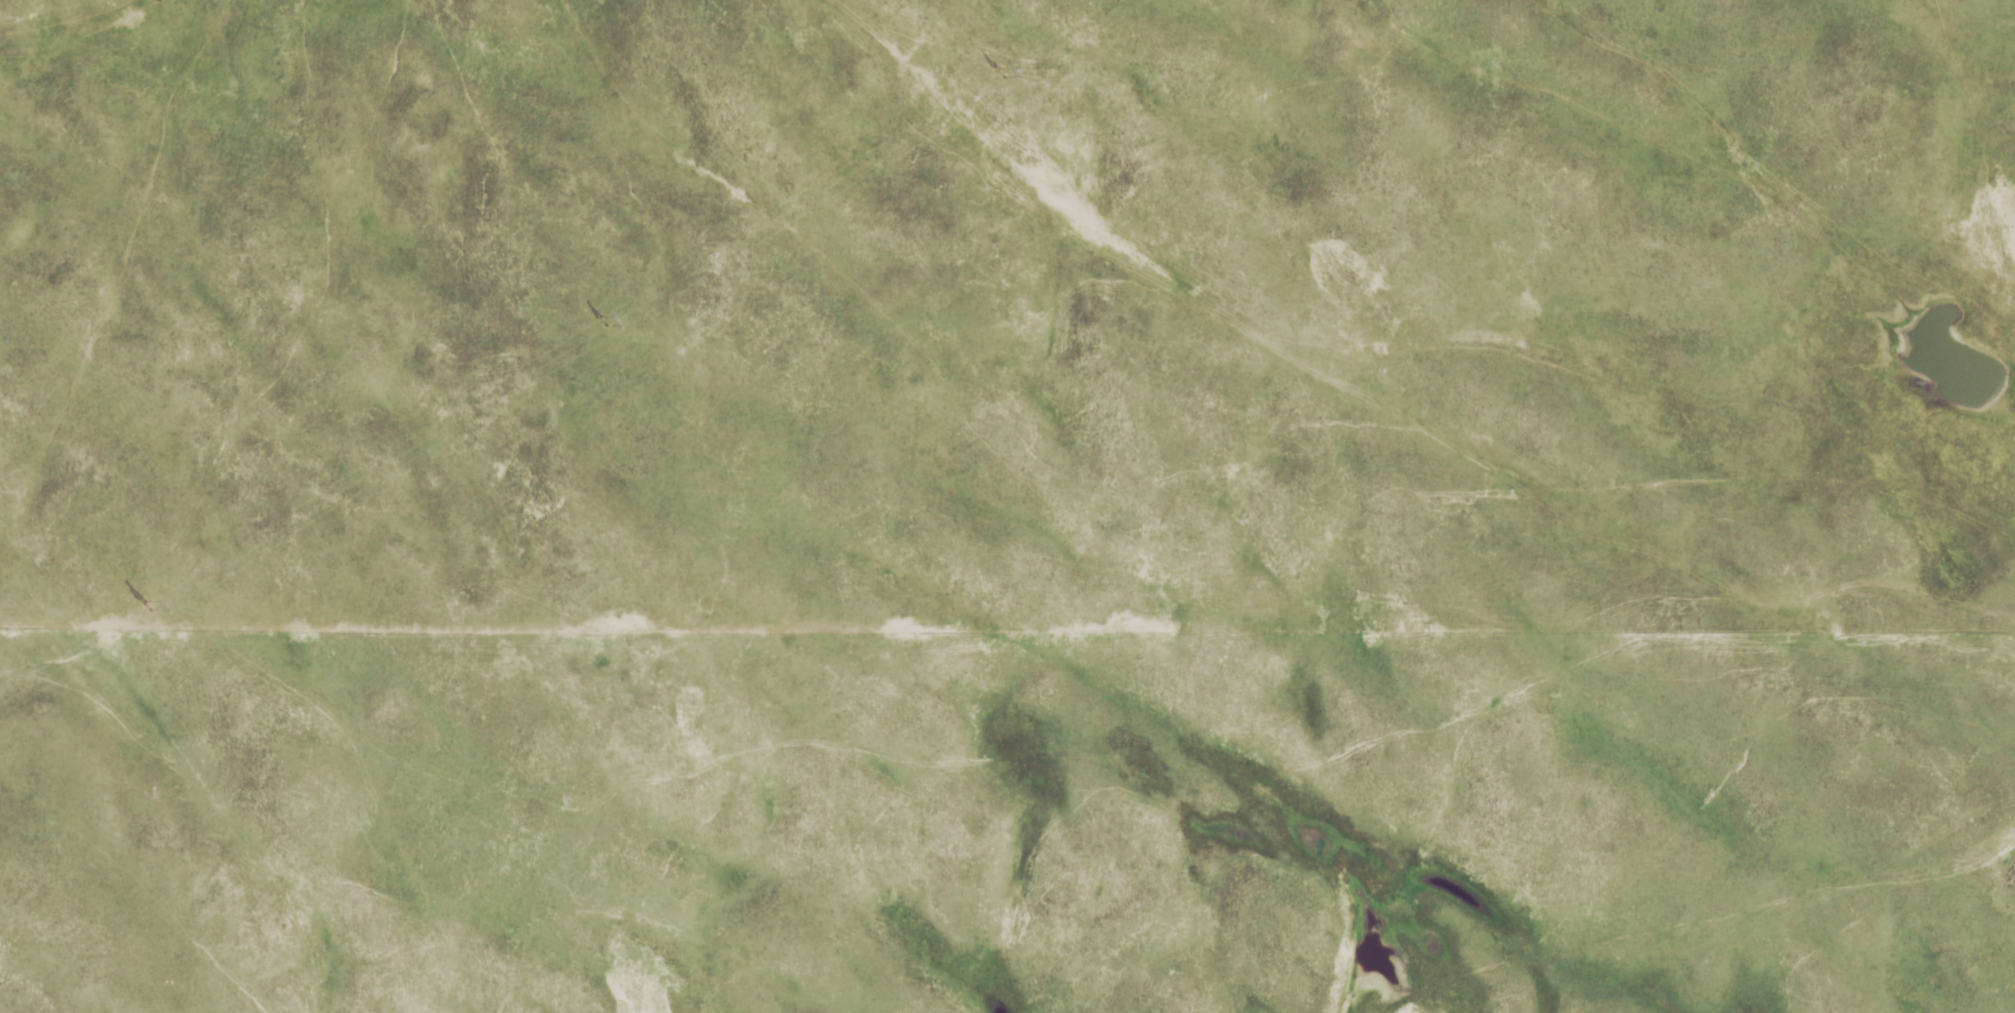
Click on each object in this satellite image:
power tower: (1001, 73)
power tower: (604, 321)
power tower: (147, 606)

